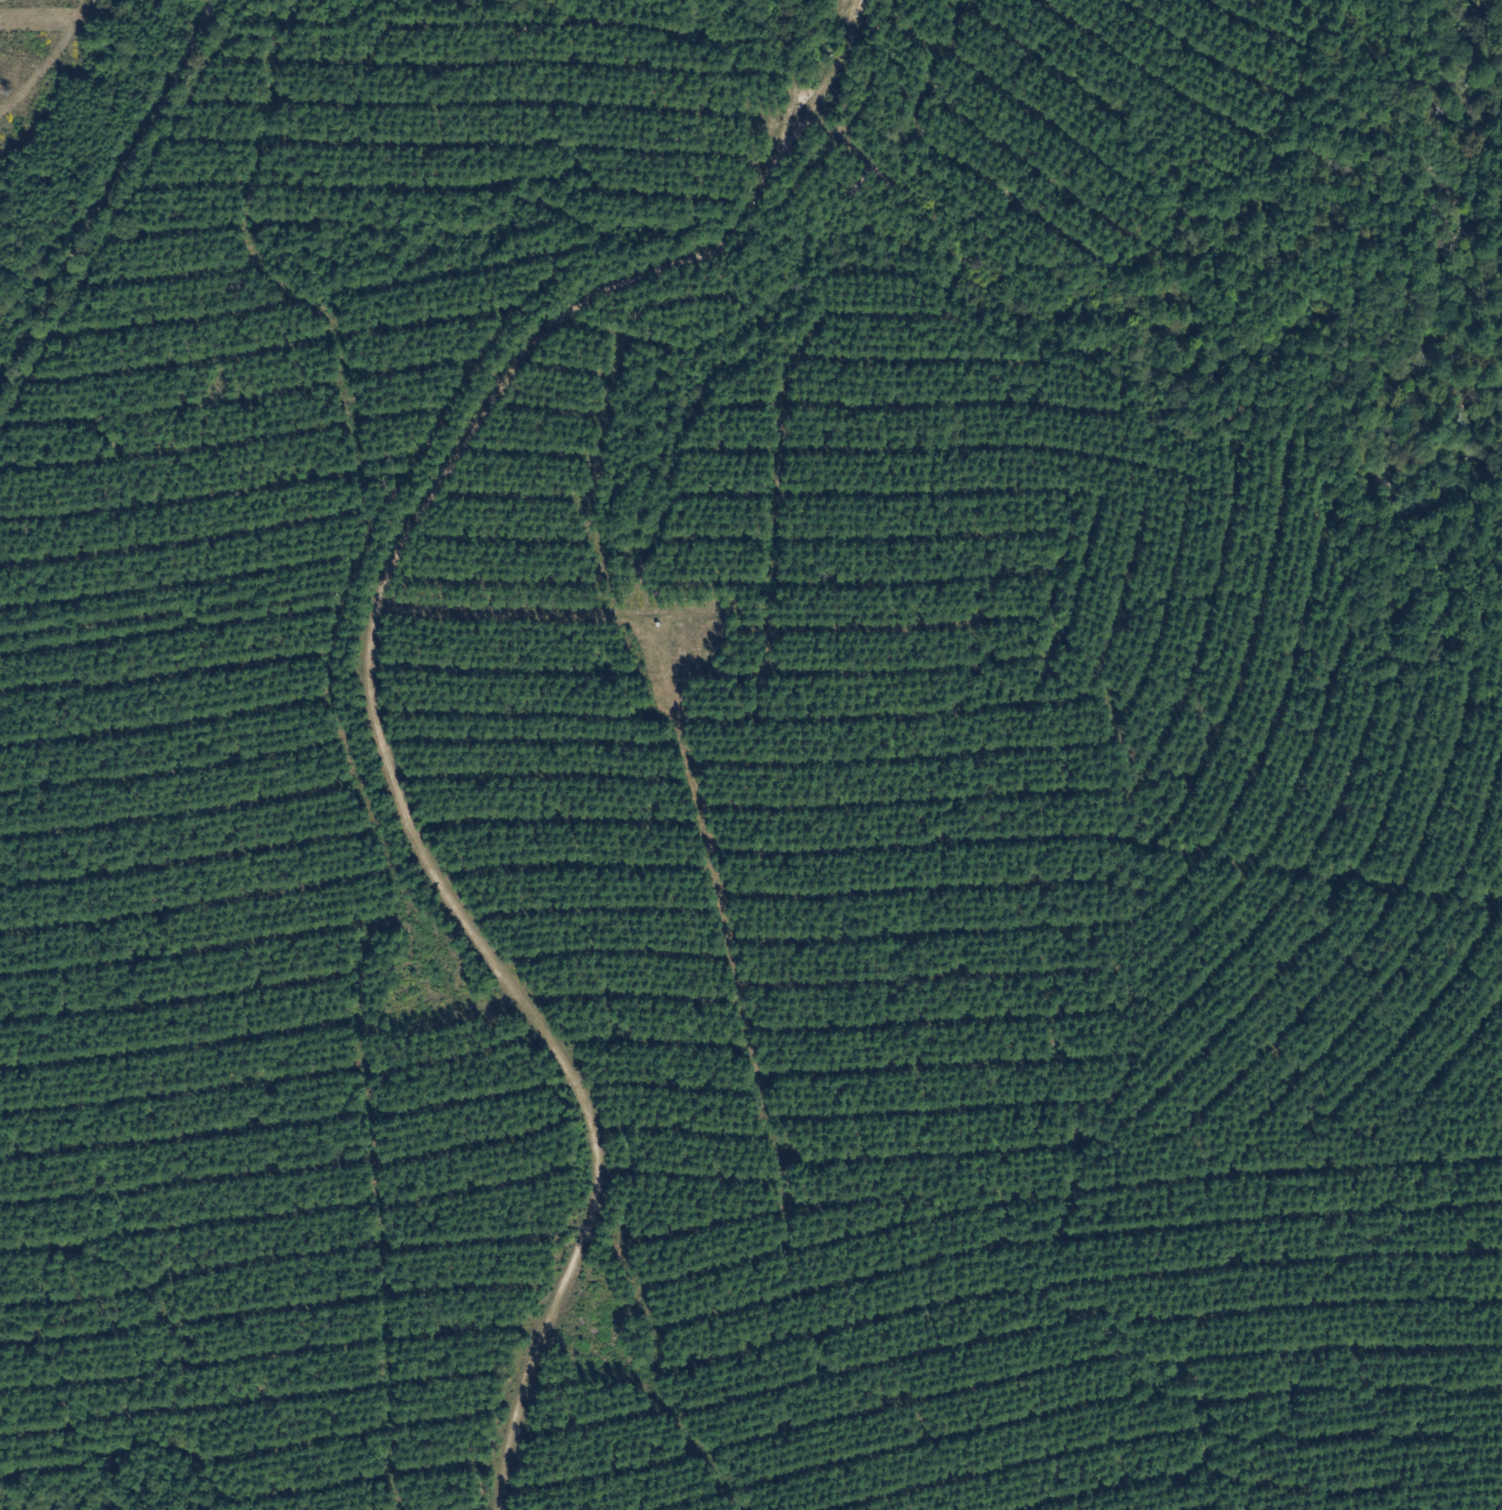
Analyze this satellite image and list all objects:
road: (449, 838)

